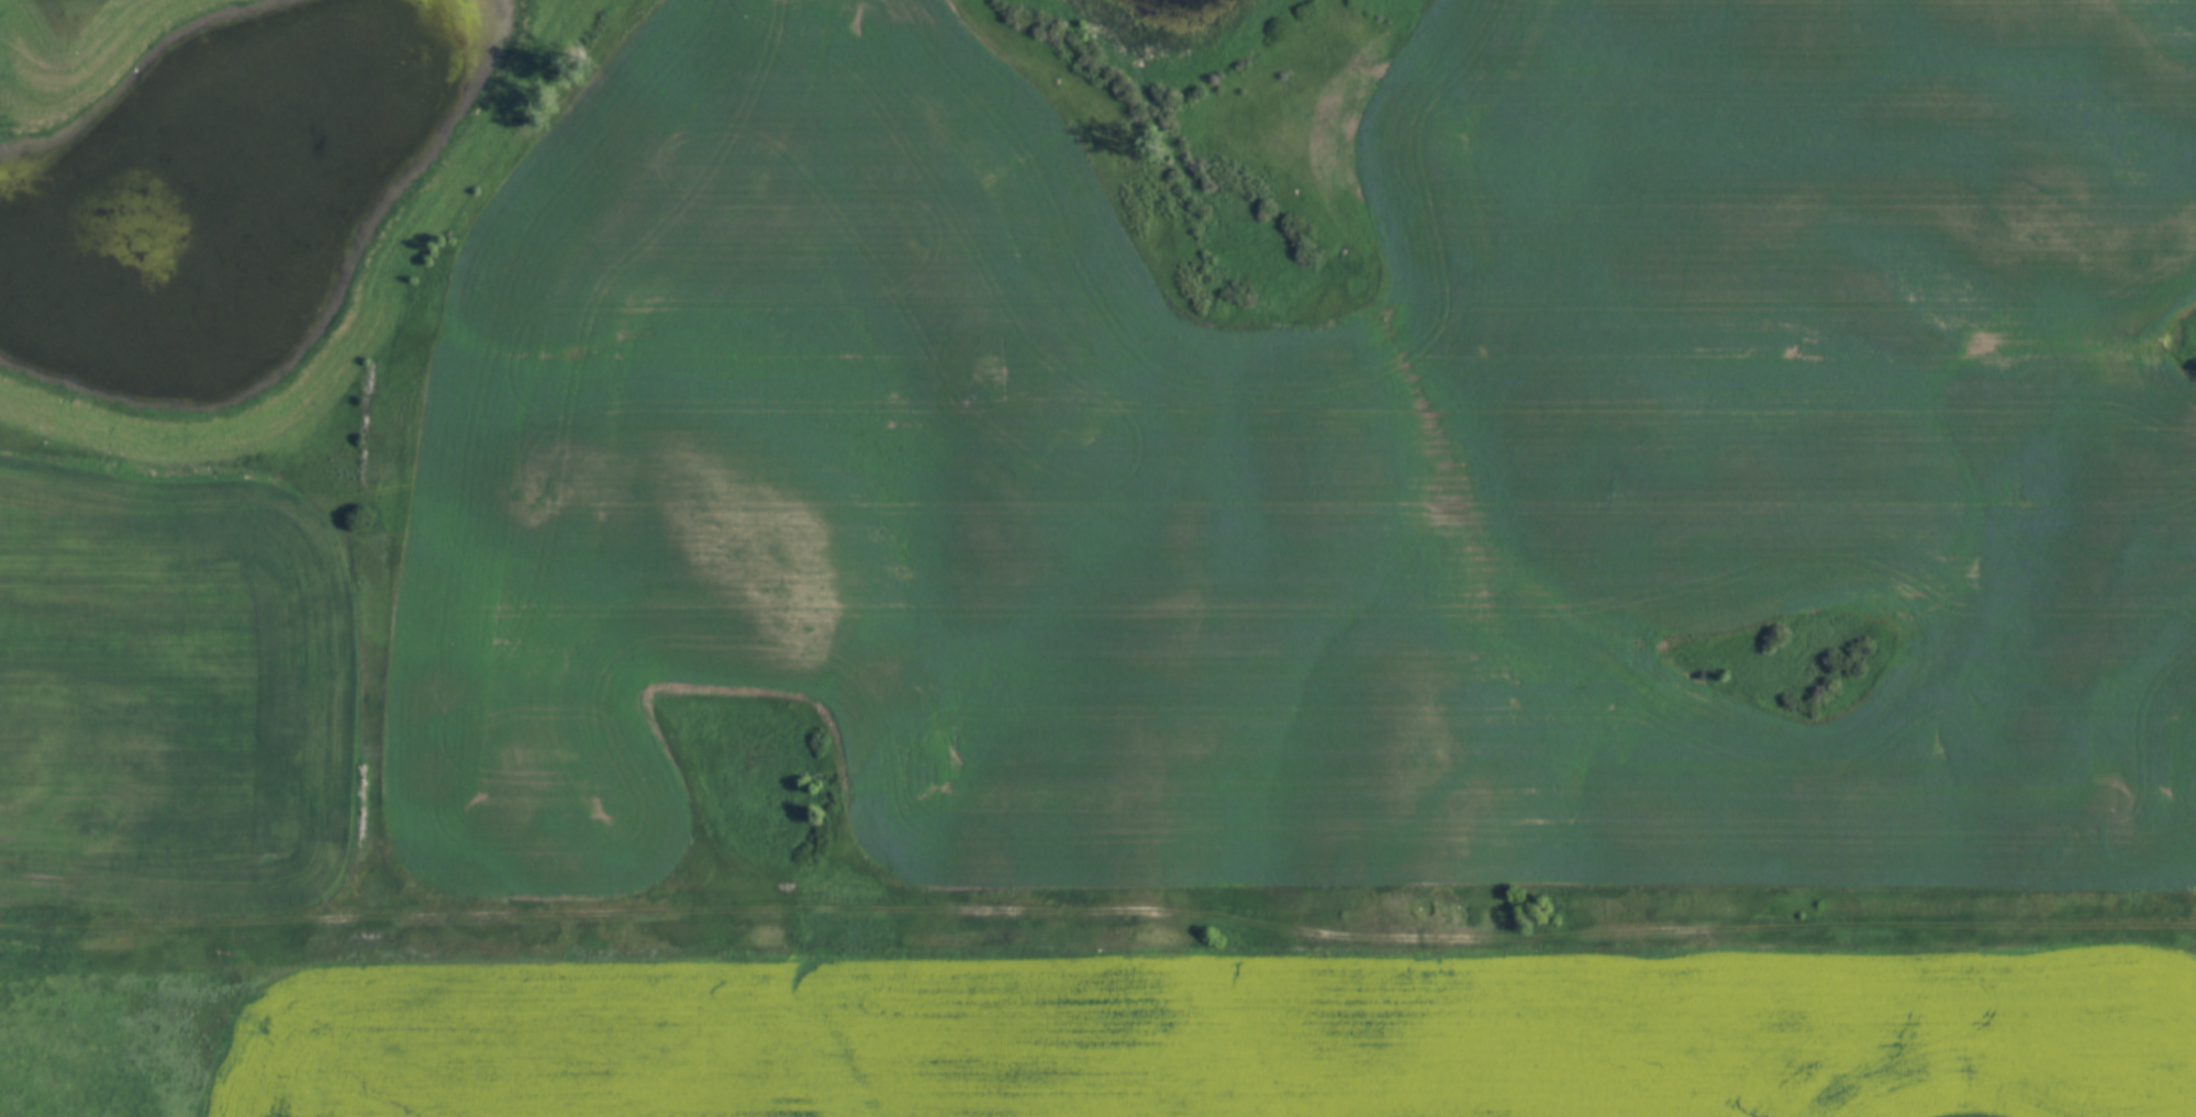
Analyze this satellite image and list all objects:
wind turbine: (972, 371)
road: (1099, 913)

